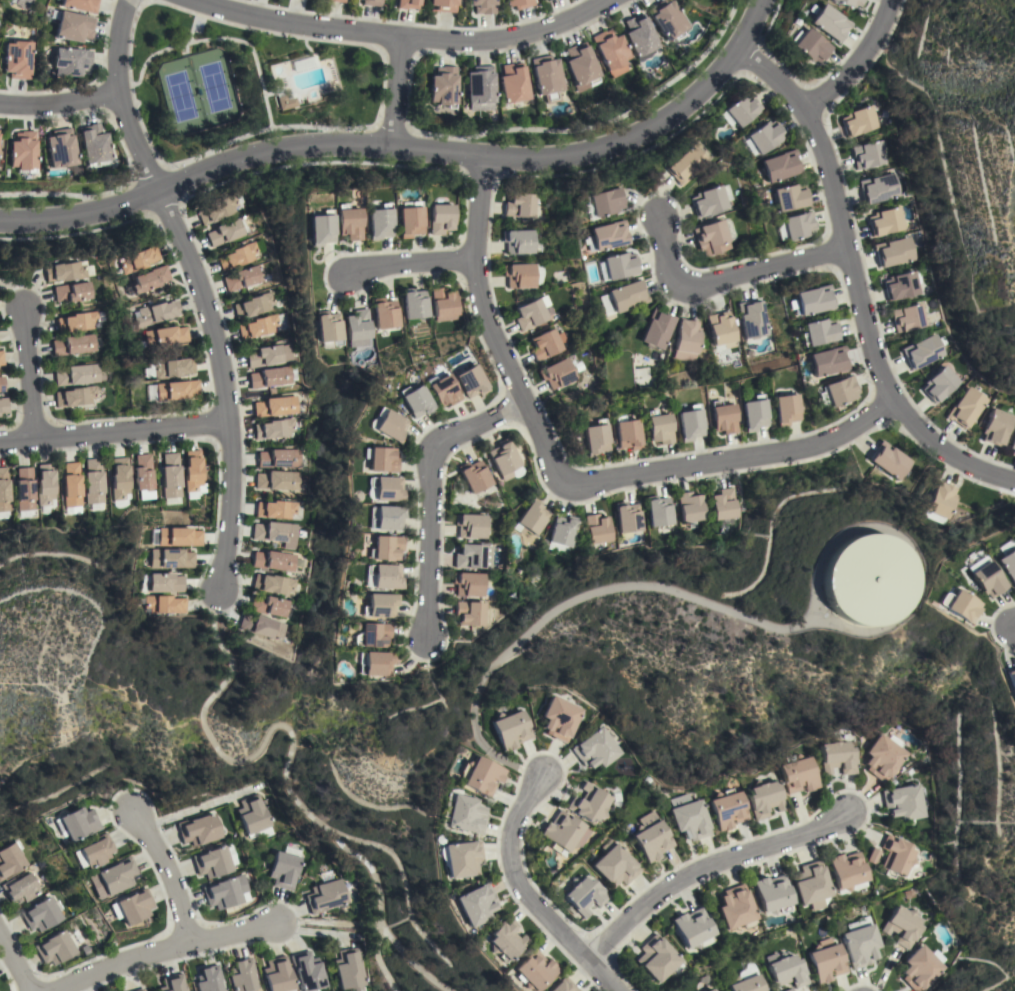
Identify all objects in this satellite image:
building: (337, 1)
building: (847, 2)
building: (21, 3)
building: (371, 3)
building: (518, 3)
building: (406, 4)
building: (79, 5)
building: (443, 5)
building: (481, 6)
building: (667, 19)
building: (829, 23)
building: (73, 27)
building: (640, 37)
road: (396, 38)
building: (810, 46)
building: (611, 52)
building: (16, 59)
road: (856, 60)
building: (69, 61)
building: (581, 67)
building: (547, 78)
building: (513, 83)
building: (442, 86)
building: (479, 88)
road: (393, 91)
road: (57, 102)
building: (285, 102)
building: (742, 108)
building: (858, 121)
building: (763, 137)
building: (93, 146)
road: (407, 146)
building: (62, 151)
building: (22, 152)
building: (868, 155)
building: (687, 163)
building: (778, 166)
building: (879, 188)
building: (789, 197)
building: (707, 201)
building: (601, 202)
building: (519, 205)
building: (218, 209)
building: (409, 219)
building: (440, 219)
building: (885, 221)
building: (348, 222)
building: (379, 222)
building: (798, 225)
building: (321, 228)
building: (225, 232)
building: (607, 235)
building: (711, 238)
building: (518, 241)
building: (894, 251)
building: (237, 256)
building: (137, 259)
road: (405, 263)
building: (619, 265)
building: (64, 271)
building: (518, 275)
road: (727, 276)
building: (241, 278)
building: (148, 279)
road: (854, 285)
building: (901, 285)
road: (206, 286)
building: (72, 292)
building: (625, 296)
building: (810, 300)
building: (414, 303)
building: (443, 304)
building: (253, 305)
building: (153, 313)
building: (385, 313)
building: (530, 313)
building: (909, 317)
building: (79, 321)
building: (750, 321)
building: (260, 326)
building: (358, 328)
building: (328, 329)
building: (655, 329)
building: (720, 330)
building: (817, 331)
building: (163, 337)
building: (686, 339)
building: (545, 344)
building: (73, 345)
building: (922, 350)
building: (269, 355)
building: (1, 359)
building: (826, 360)
building: (172, 368)
road: (27, 372)
building: (556, 373)
building: (76, 375)
building: (270, 377)
building: (470, 382)
building: (938, 383)
building: (1, 384)
building: (441, 389)
building: (175, 390)
building: (840, 390)
building: (75, 396)
building: (415, 401)
building: (3, 406)
building: (275, 406)
building: (964, 407)
building: (785, 408)
building: (752, 413)
building: (722, 417)
building: (689, 423)
building: (389, 425)
building: (658, 427)
building: (994, 427)
building: (274, 429)
road: (113, 431)
building: (626, 433)
building: (594, 438)
building: (1012, 444)
building: (279, 458)
building: (380, 459)
building: (503, 459)
building: (889, 460)
building: (192, 470)
building: (142, 472)
building: (475, 475)
building: (119, 478)
building: (170, 478)
road: (562, 478)
building: (278, 480)
building: (93, 481)
building: (45, 484)
building: (71, 485)
building: (24, 489)
building: (388, 489)
building: (4, 491)
road: (428, 494)
building: (939, 502)
building: (723, 504)
building: (689, 506)
building: (275, 509)
building: (658, 511)
building: (627, 517)
building: (387, 518)
building: (531, 518)
building: (469, 526)
building: (597, 529)
building: (563, 530)
building: (276, 533)
building: (177, 537)
building: (385, 548)
building: (469, 557)
building: (170, 558)
building: (273, 561)
building: (1006, 561)
building: (386, 576)
building: (984, 577)
water tower: (866, 579)
building: (864, 580)
building: (161, 583)
building: (273, 584)
building: (467, 584)
road: (571, 600)
building: (164, 604)
building: (380, 605)
building: (959, 605)
building: (268, 606)
building: (469, 613)
road: (1012, 622)
building: (262, 627)
building: (372, 635)
building: (376, 664)
building: (1009, 682)
building: (560, 718)
building: (511, 730)
building: (595, 749)
building: (837, 757)
building: (882, 757)
road: (288, 758)
building: (797, 774)
building: (481, 775)
building: (764, 799)
building: (903, 802)
building: (588, 803)
building: (727, 809)
road: (186, 811)
building: (463, 814)
building: (253, 817)
building: (690, 820)
building: (76, 824)
building: (197, 829)
building: (564, 832)
building: (652, 840)
building: (94, 852)
building: (872, 856)
building: (896, 856)
building: (10, 859)
building: (461, 859)
building: (214, 861)
building: (614, 864)
building: (285, 868)
building: (847, 872)
road: (705, 874)
building: (116, 876)
road: (166, 876)
building: (811, 885)
building: (20, 889)
building: (226, 892)
road: (521, 892)
building: (771, 894)
building: (584, 895)
building: (325, 896)
building: (474, 904)
building: (133, 906)
building: (735, 908)
building: (40, 915)
building: (902, 926)
building: (692, 928)
building: (503, 940)
building: (860, 942)
building: (54, 948)
road: (168, 950)
building: (656, 958)
road: (376, 960)
building: (825, 961)
road: (14, 965)
building: (919, 968)
building: (785, 969)
building: (347, 970)
building: (305, 971)
building: (532, 971)
building: (275, 975)
building: (241, 976)
building: (207, 978)
building: (171, 983)
building: (746, 984)
building: (562, 985)
building: (139, 990)
road: (613, 990)
building: (710, 990)

